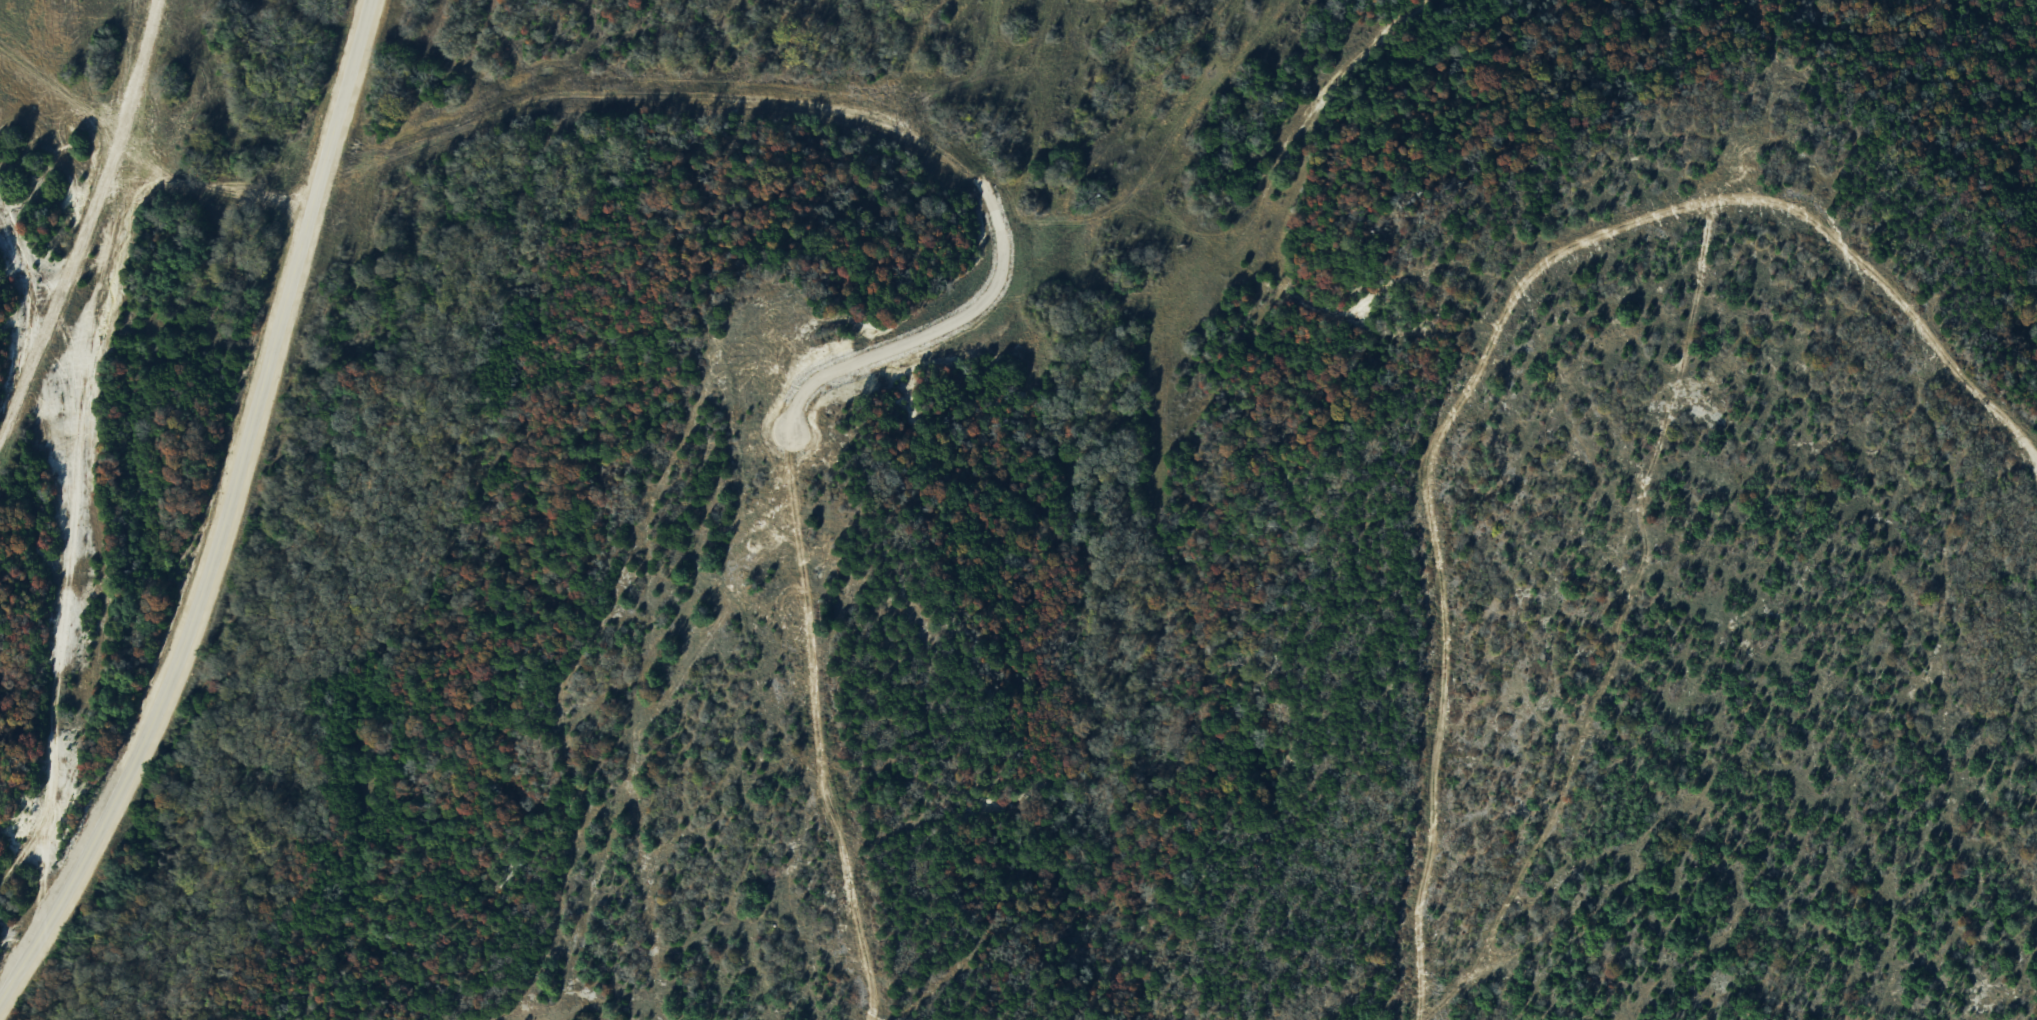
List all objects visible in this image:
road: (92, 229)
road: (223, 516)

